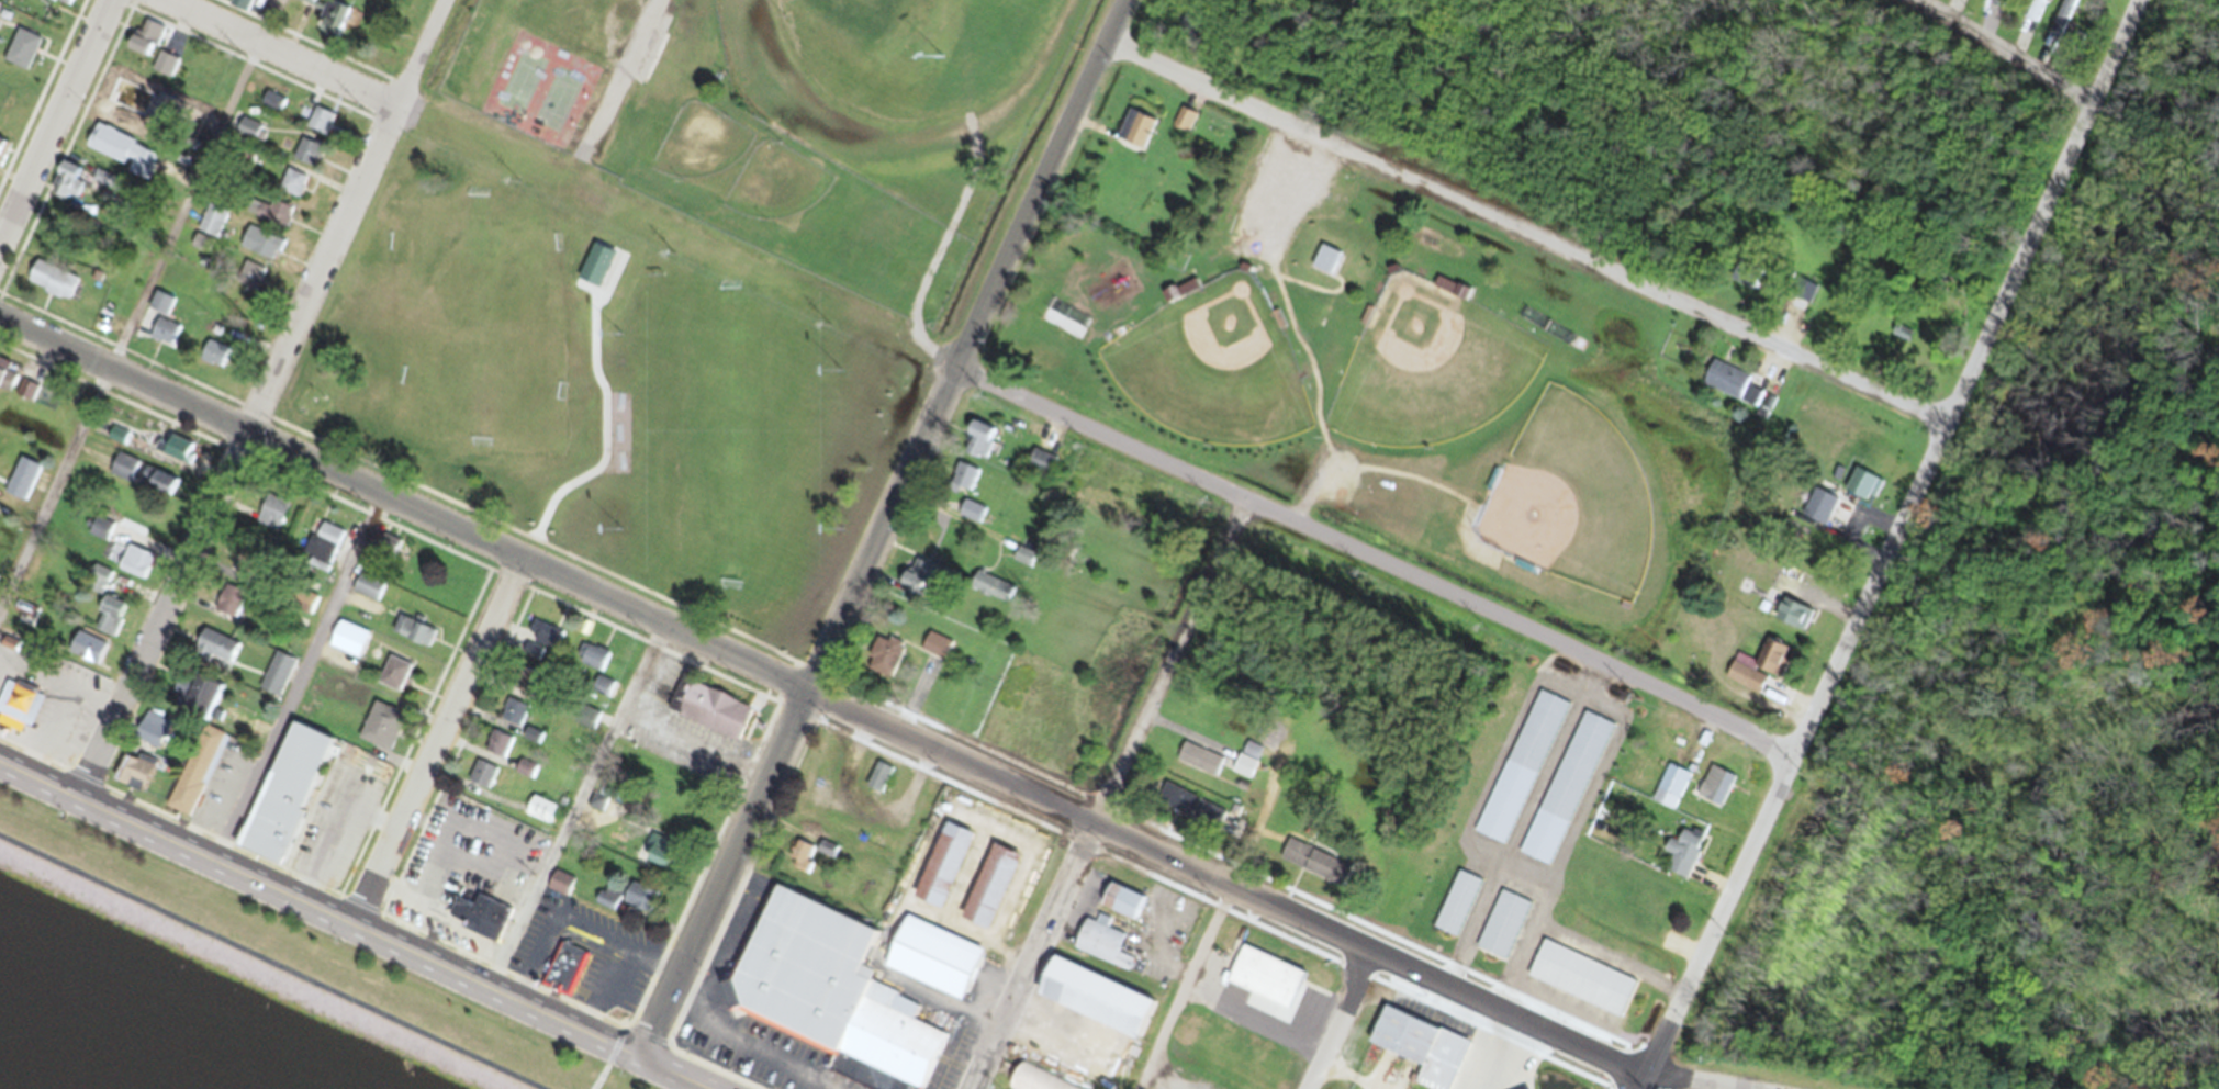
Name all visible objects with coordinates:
building: (1997, 2)
building: (58, 4)
building: (243, 8)
building: (2037, 13)
building: (332, 25)
building: (144, 45)
building: (679, 52)
road: (277, 54)
road: (419, 54)
road: (1995, 56)
building: (19, 58)
road: (621, 68)
building: (164, 71)
park: (520, 90)
park: (557, 106)
road: (56, 123)
building: (318, 127)
building: (1184, 127)
building: (250, 137)
building: (1139, 137)
building: (2, 155)
building: (306, 160)
road: (1042, 183)
building: (293, 188)
building: (271, 218)
building: (212, 225)
building: (536, 231)
road: (1529, 234)
building: (259, 248)
building: (1324, 266)
park: (673, 274)
building: (250, 284)
building: (51, 285)
building: (1758, 293)
building: (1804, 297)
road: (141, 306)
building: (159, 310)
building: (162, 339)
building: (1914, 358)
park: (1366, 359)
building: (212, 361)
building: (4, 379)
building: (1728, 388)
building: (25, 398)
park: (602, 400)
building: (977, 447)
building: (179, 457)
road: (235, 457)
building: (1040, 469)
building: (122, 473)
building: (964, 484)
building: (21, 485)
building: (972, 517)
building: (1834, 517)
building: (271, 520)
road: (1891, 546)
building: (139, 550)
building: (324, 550)
road: (1374, 557)
building: (1022, 562)
building: (910, 590)
building: (367, 593)
building: (227, 609)
building: (109, 621)
building: (1792, 621)
building: (292, 633)
building: (413, 638)
building: (542, 639)
building: (346, 645)
building: (937, 653)
building: (86, 655)
building: (213, 655)
building: (530, 660)
building: (883, 663)
building: (592, 664)
building: (1758, 674)
building: (393, 680)
building: (276, 682)
road: (303, 684)
building: (602, 694)
building: (649, 697)
building: (193, 704)
building: (18, 710)
building: (707, 715)
road: (797, 716)
building: (513, 718)
road: (864, 719)
building: (585, 725)
building: (235, 726)
building: (379, 733)
building: (1538, 739)
building: (530, 742)
road: (436, 745)
building: (496, 752)
building: (1199, 765)
building: (1247, 766)
building: (1577, 774)
building: (194, 777)
building: (132, 779)
building: (481, 781)
building: (878, 785)
road: (1111, 794)
building: (1670, 794)
building: (1714, 795)
building: (283, 800)
building: (1189, 812)
road: (580, 813)
building: (539, 816)
building: (658, 856)
building: (1682, 858)
building: (1313, 869)
building: (941, 872)
building: (988, 892)
building: (619, 905)
building: (1120, 907)
road: (1220, 913)
road: (575, 920)
building: (479, 923)
building: (1647, 925)
road: (345, 929)
building: (1503, 932)
building: (1100, 950)
road: (528, 956)
park: (280, 959)
road: (264, 965)
building: (932, 965)
road: (618, 966)
building: (563, 977)
building: (1265, 985)
building: (1580, 986)
building: (828, 999)
building: (1094, 1006)
road: (1258, 1017)
road: (1342, 1021)
road: (739, 1049)
building: (1419, 1052)
road: (1494, 1052)
building: (1030, 1081)

